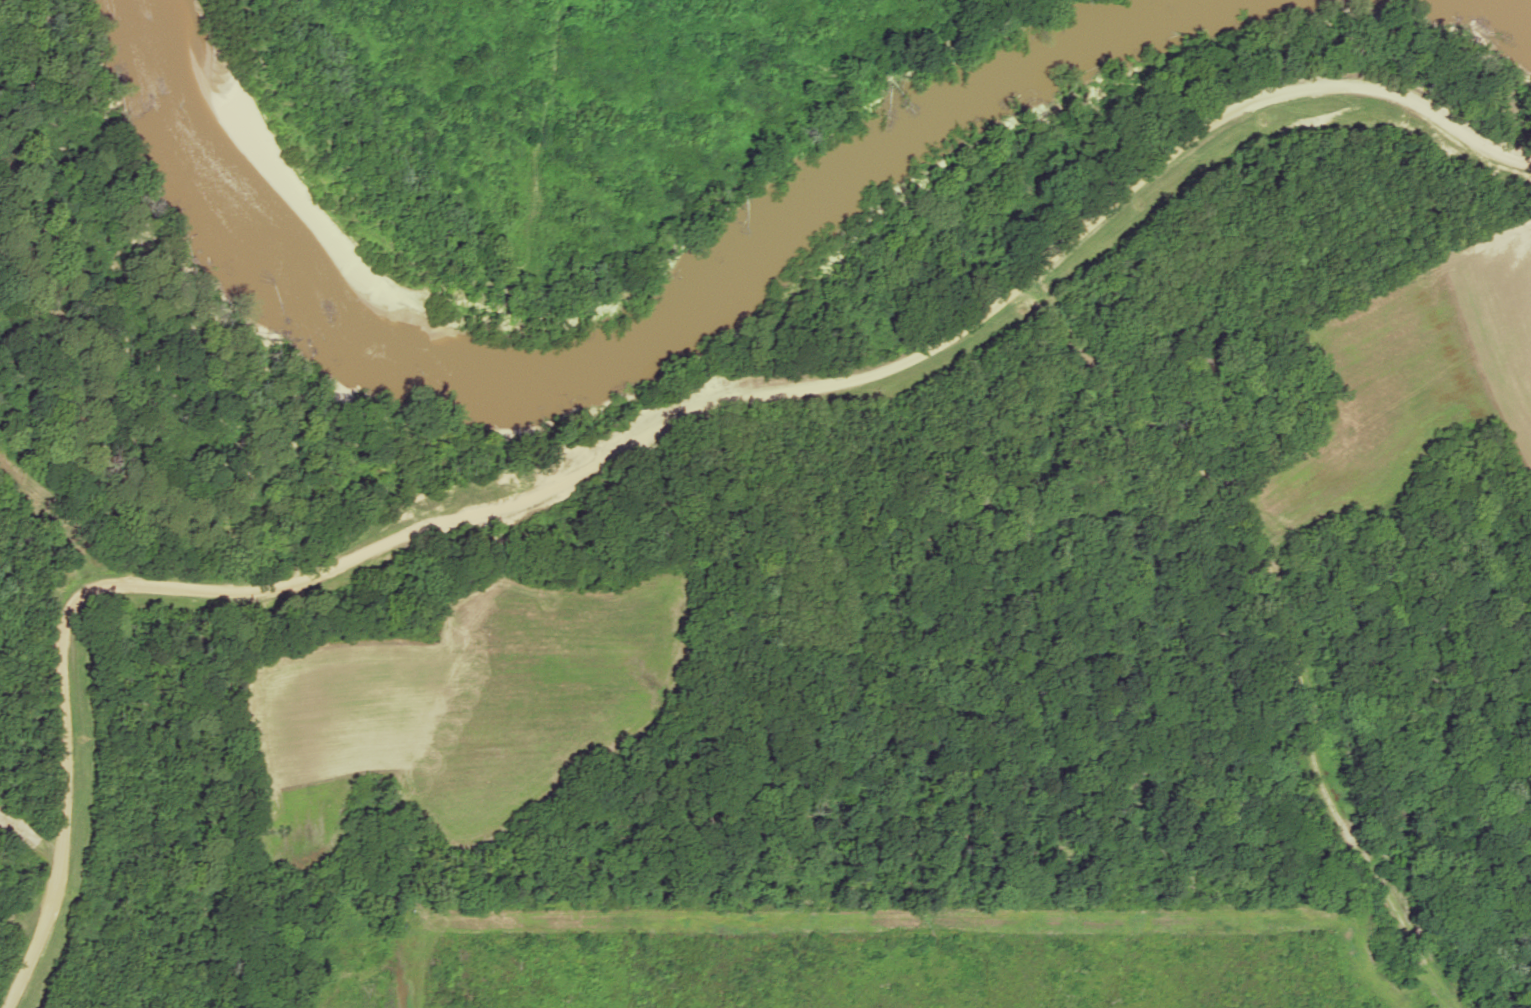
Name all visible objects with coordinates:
river: (643, 344)

